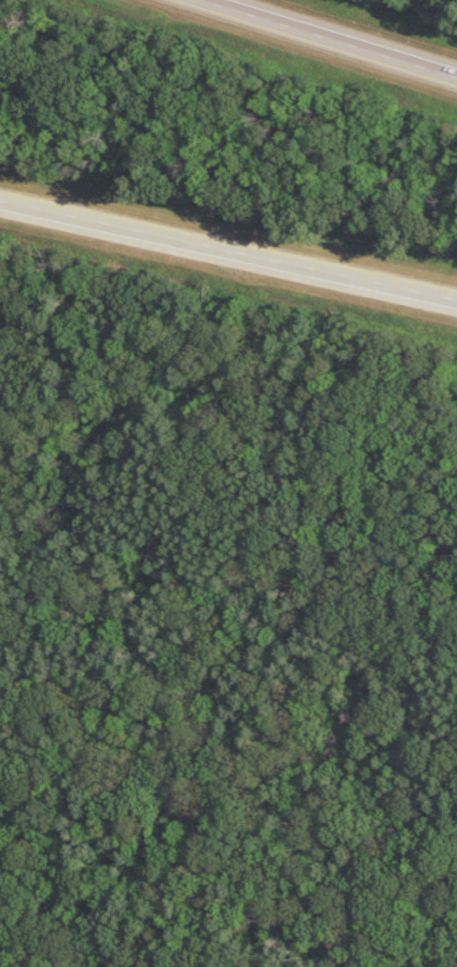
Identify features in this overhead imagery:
road: (329, 38)
road: (228, 250)
road: (234, 351)
road: (220, 584)
road: (229, 807)
road: (439, 952)

